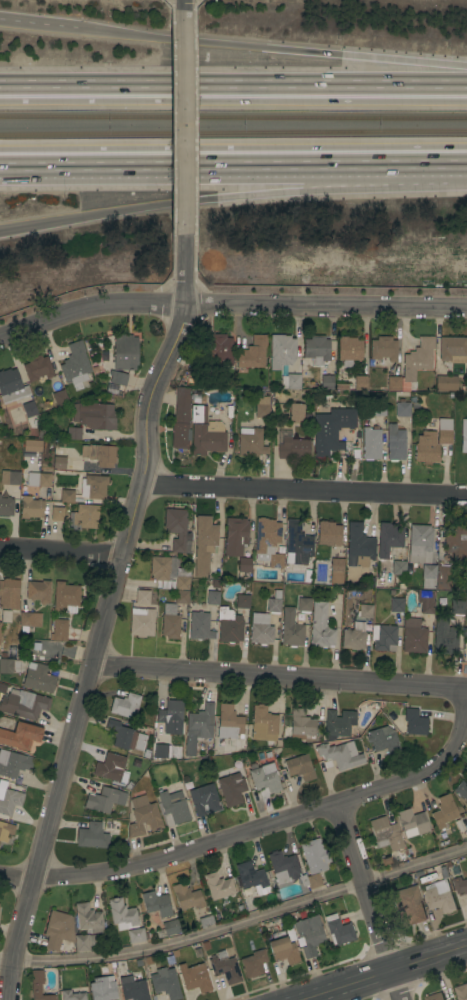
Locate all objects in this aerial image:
road: (186, 7)
road: (40, 25)
road: (273, 47)
road: (233, 82)
railway: (233, 117)
road: (186, 126)
railway: (233, 131)
road: (233, 157)
road: (225, 170)
road: (232, 198)
traffic signals: (96, 216)
road: (230, 308)
building: (383, 348)
building: (452, 349)
building: (218, 350)
building: (316, 350)
building: (282, 351)
building: (348, 351)
building: (124, 352)
building: (252, 353)
building: (416, 361)
building: (75, 365)
building: (37, 368)
building: (117, 380)
building: (290, 381)
building: (326, 382)
building: (360, 383)
building: (393, 383)
building: (445, 383)
building: (11, 386)
building: (341, 386)
building: (59, 398)
building: (412, 398)
building: (325, 406)
building: (378, 408)
building: (29, 409)
building: (402, 409)
building: (261, 410)
building: (296, 412)
building: (198, 414)
building: (94, 415)
building: (180, 419)
building: (374, 426)
building: (330, 431)
building: (444, 431)
building: (73, 433)
building: (355, 434)
building: (463, 436)
building: (207, 439)
building: (250, 442)
building: (395, 443)
building: (370, 444)
building: (31, 445)
building: (292, 448)
building: (426, 448)
building: (99, 455)
building: (58, 460)
building: (9, 477)
building: (38, 479)
building: (93, 487)
road: (305, 489)
building: (66, 496)
building: (6, 506)
building: (31, 507)
building: (57, 513)
building: (84, 517)
building: (177, 530)
building: (328, 534)
building: (235, 536)
building: (389, 540)
building: (268, 542)
building: (296, 544)
building: (420, 544)
building: (204, 545)
building: (359, 545)
building: (455, 545)
road: (61, 551)
building: (333, 555)
building: (244, 565)
building: (398, 568)
building: (169, 571)
building: (336, 571)
building: (428, 576)
building: (443, 577)
building: (214, 583)
building: (400, 585)
building: (38, 591)
building: (276, 593)
building: (9, 594)
building: (65, 597)
building: (142, 597)
building: (181, 597)
building: (212, 598)
building: (242, 601)
building: (425, 601)
building: (466, 604)
building: (304, 605)
building: (396, 605)
building: (273, 606)
building: (457, 607)
building: (365, 611)
building: (5, 615)
road: (104, 618)
building: (29, 620)
building: (141, 622)
building: (170, 622)
building: (0, 626)
building: (199, 626)
building: (320, 627)
building: (260, 629)
building: (291, 629)
building: (58, 630)
building: (230, 630)
building: (466, 634)
building: (413, 636)
building: (354, 637)
building: (444, 637)
building: (383, 638)
building: (35, 646)
building: (11, 650)
building: (29, 656)
building: (466, 657)
building: (6, 666)
building: (38, 678)
road: (278, 679)
building: (2, 688)
building: (387, 704)
building: (24, 705)
building: (125, 706)
building: (170, 717)
building: (414, 722)
building: (338, 724)
building: (228, 725)
building: (300, 725)
building: (264, 726)
building: (198, 727)
building: (20, 736)
building: (125, 736)
building: (169, 738)
building: (383, 740)
building: (167, 752)
building: (146, 754)
building: (260, 754)
building: (267, 754)
building: (340, 755)
building: (131, 761)
building: (13, 763)
building: (299, 767)
building: (111, 768)
building: (168, 768)
building: (265, 778)
building: (128, 784)
building: (187, 784)
building: (231, 789)
building: (461, 790)
building: (173, 794)
building: (104, 799)
building: (204, 800)
building: (9, 801)
building: (172, 810)
building: (444, 811)
building: (466, 811)
building: (466, 815)
building: (143, 817)
building: (412, 821)
building: (108, 825)
building: (5, 831)
road: (249, 834)
building: (385, 834)
building: (408, 834)
building: (91, 836)
building: (408, 850)
building: (314, 856)
building: (448, 863)
building: (282, 866)
building: (443, 872)
building: (417, 873)
building: (252, 878)
building: (310, 880)
building: (460, 885)
building: (217, 886)
building: (246, 892)
building: (440, 896)
building: (186, 897)
building: (155, 903)
road: (367, 903)
building: (408, 906)
building: (240, 909)
building: (231, 911)
building: (301, 914)
building: (86, 918)
building: (125, 920)
building: (205, 921)
road: (236, 924)
building: (170, 927)
building: (58, 930)
building: (338, 930)
building: (275, 934)
building: (308, 935)
building: (84, 942)
building: (205, 945)
building: (283, 950)
building: (175, 953)
building: (197, 953)
building: (253, 963)
building: (225, 968)
road: (383, 972)
building: (194, 978)
building: (165, 983)
building: (39, 987)
building: (102, 989)
building: (133, 989)
building: (461, 992)
building: (71, 995)
building: (436, 997)
building: (450, 999)
building: (452, 999)

